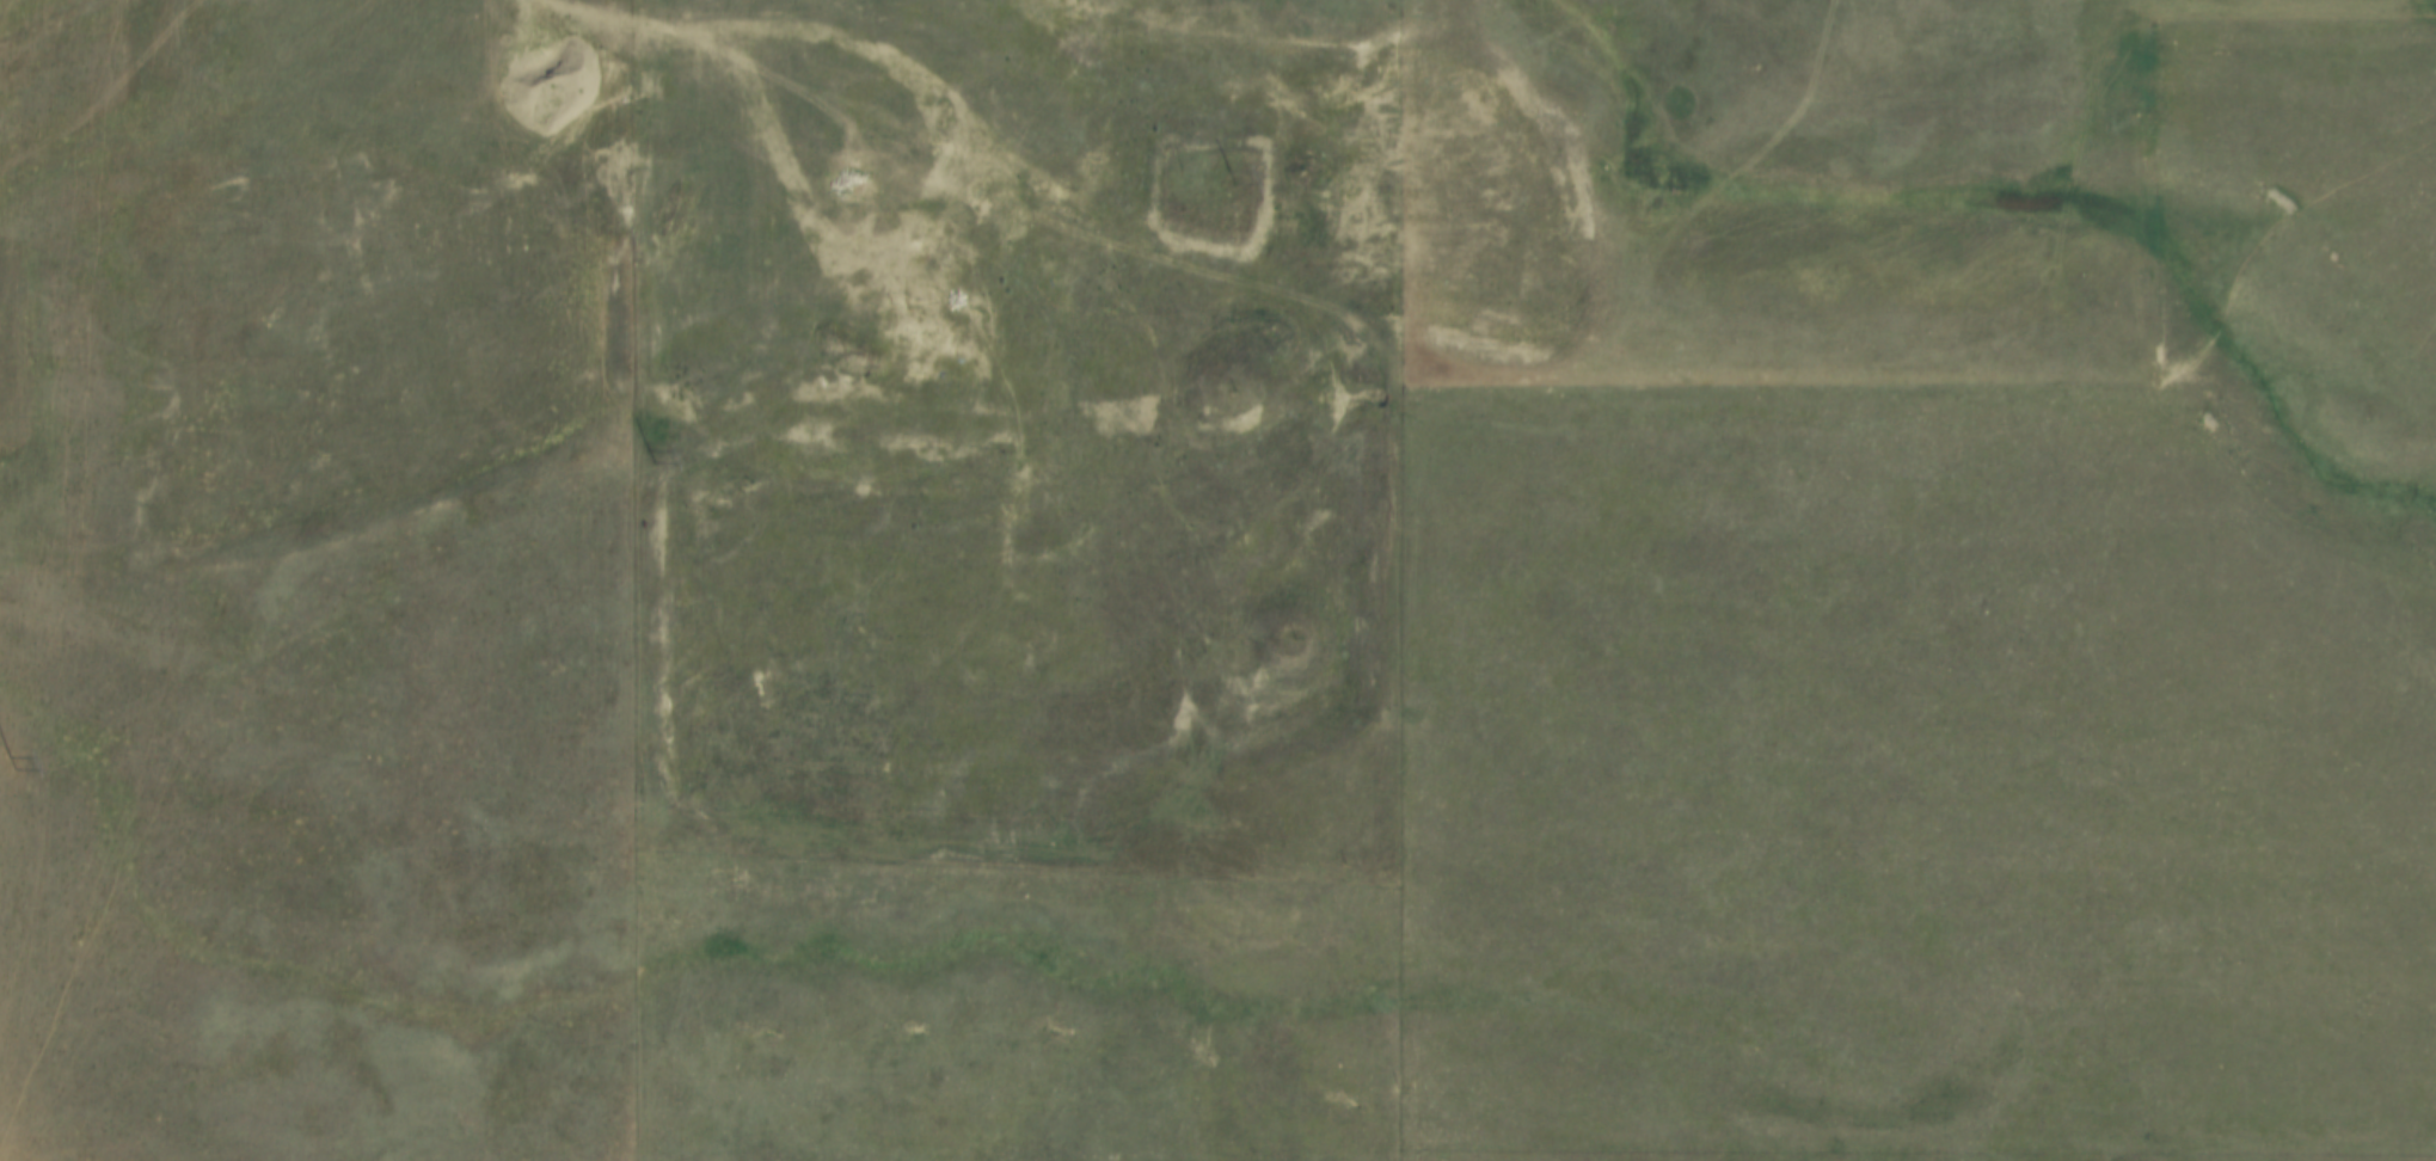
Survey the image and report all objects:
power tower: (1229, 177)
power tower: (652, 457)
power tower: (11, 761)

